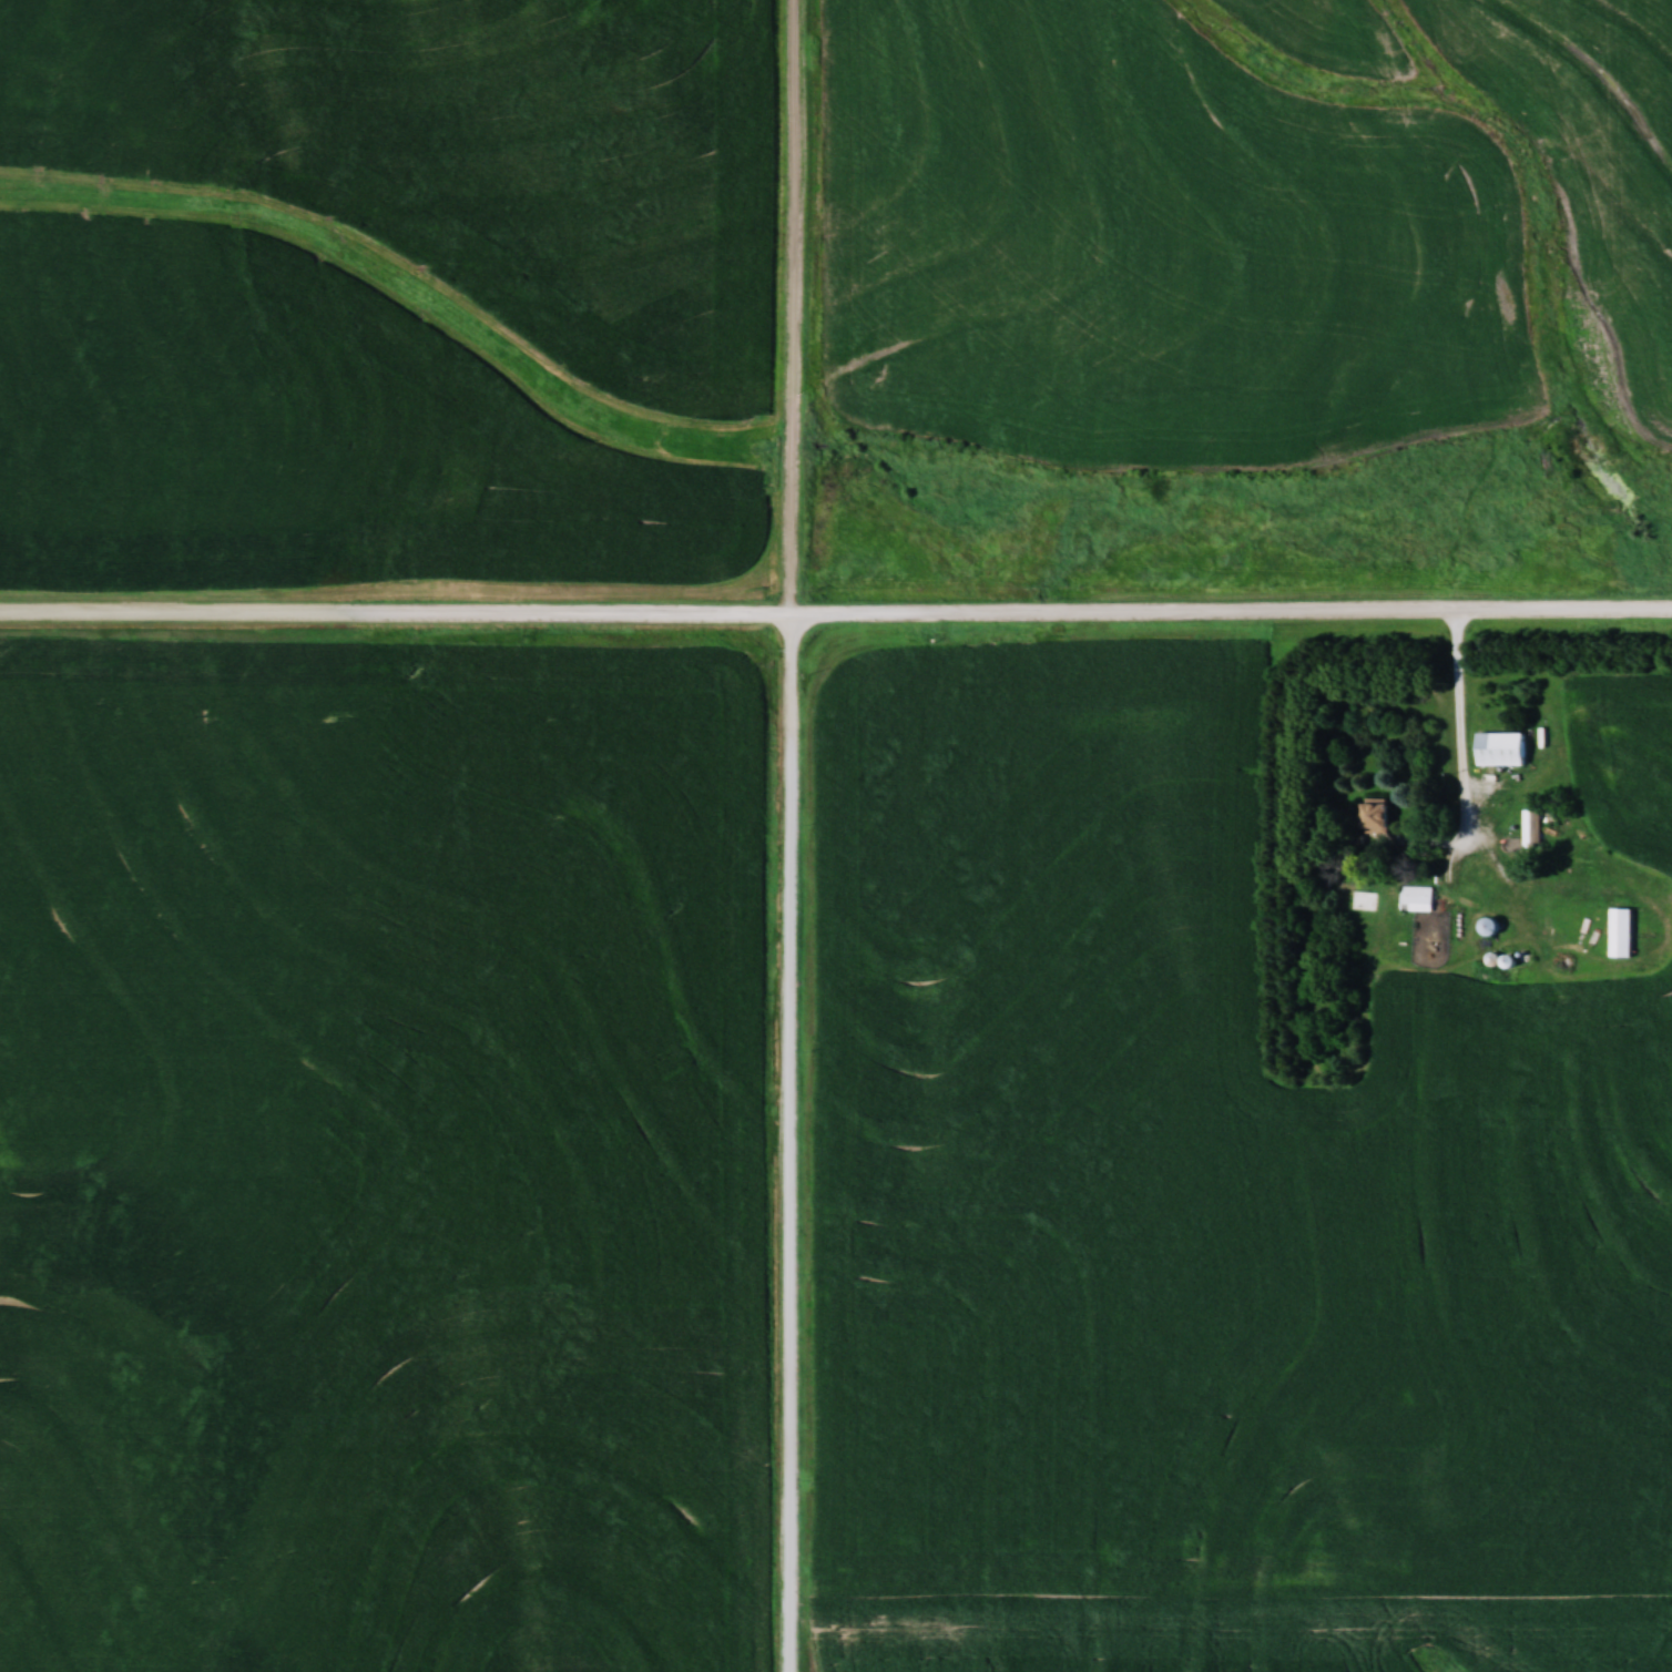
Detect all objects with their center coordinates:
road: (799, 307)
road: (1234, 612)
road: (398, 615)
road: (1466, 727)
building: (1502, 747)
building: (1376, 815)
building: (1532, 834)
building: (1416, 898)
building: (1490, 926)
building: (1621, 932)
road: (795, 1143)

